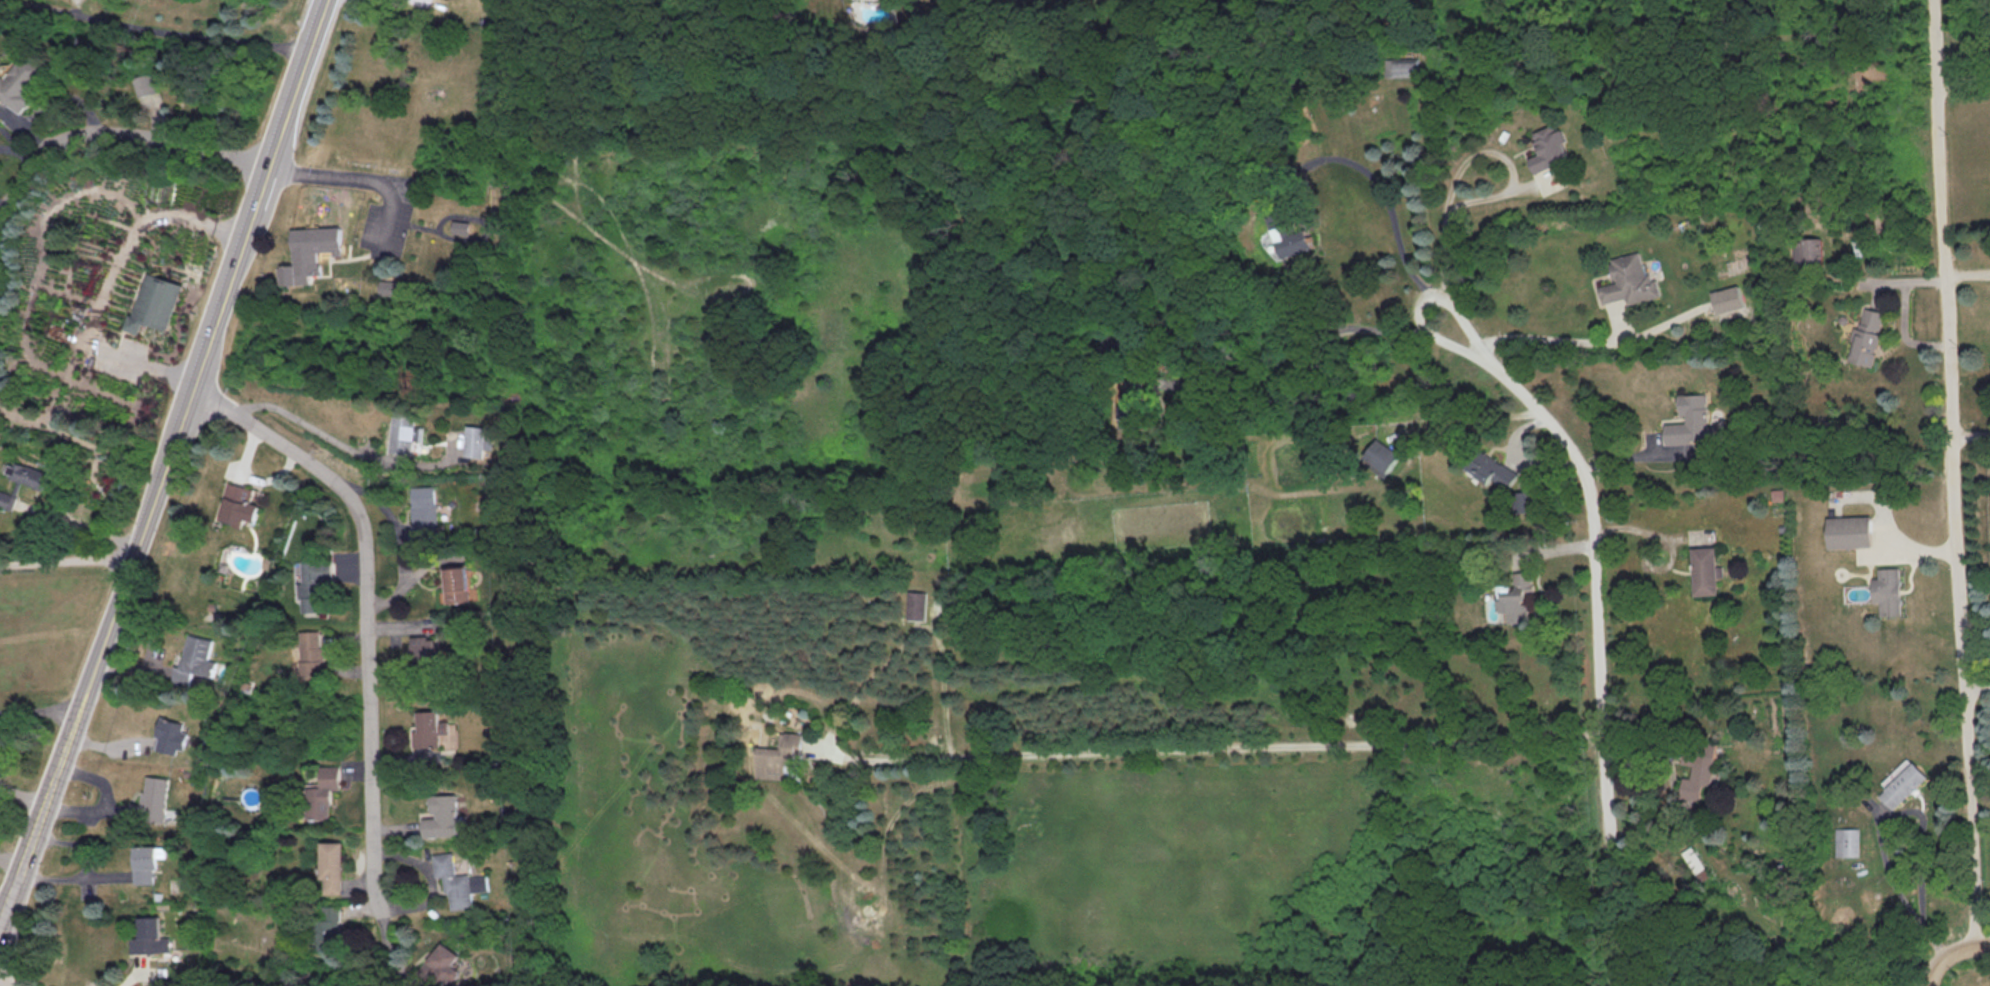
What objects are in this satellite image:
road: (158, 31)
road: (306, 58)
building: (1401, 66)
road: (1961, 76)
building: (26, 83)
building: (147, 84)
road: (114, 132)
building: (1550, 147)
road: (288, 169)
road: (266, 172)
road: (374, 179)
road: (1380, 185)
road: (1445, 223)
building: (461, 226)
building: (1295, 239)
building: (1809, 250)
road: (110, 277)
building: (1630, 279)
building: (394, 287)
road: (1422, 297)
building: (1728, 298)
building: (156, 302)
road: (221, 307)
building: (1866, 337)
road: (1553, 338)
road: (1314, 345)
building: (1135, 412)
road: (1470, 418)
road: (299, 419)
building: (1690, 420)
building: (405, 432)
road: (1971, 435)
building: (477, 439)
road: (174, 443)
building: (1381, 456)
building: (1492, 469)
road: (1952, 471)
building: (27, 473)
building: (6, 498)
building: (1526, 500)
building: (240, 504)
building: (423, 511)
road: (87, 525)
building: (1849, 531)
road: (66, 559)
building: (1705, 570)
building: (315, 584)
building: (459, 585)
building: (1887, 590)
building: (1518, 598)
building: (916, 604)
road: (115, 607)
road: (363, 607)
building: (424, 647)
building: (312, 652)
road: (1596, 653)
building: (196, 659)
road: (1976, 685)
road: (38, 708)
building: (429, 728)
building: (172, 735)
road: (1203, 746)
building: (778, 755)
building: (1698, 768)
road: (55, 775)
building: (1901, 782)
building: (324, 792)
building: (155, 798)
building: (442, 816)
building: (1845, 841)
road: (75, 842)
road: (28, 850)
road: (11, 860)
building: (147, 862)
building: (1696, 863)
building: (335, 865)
road: (21, 869)
road: (72, 875)
building: (457, 880)
road: (9, 899)
building: (334, 926)
building: (151, 936)
road: (1952, 956)
building: (442, 965)

